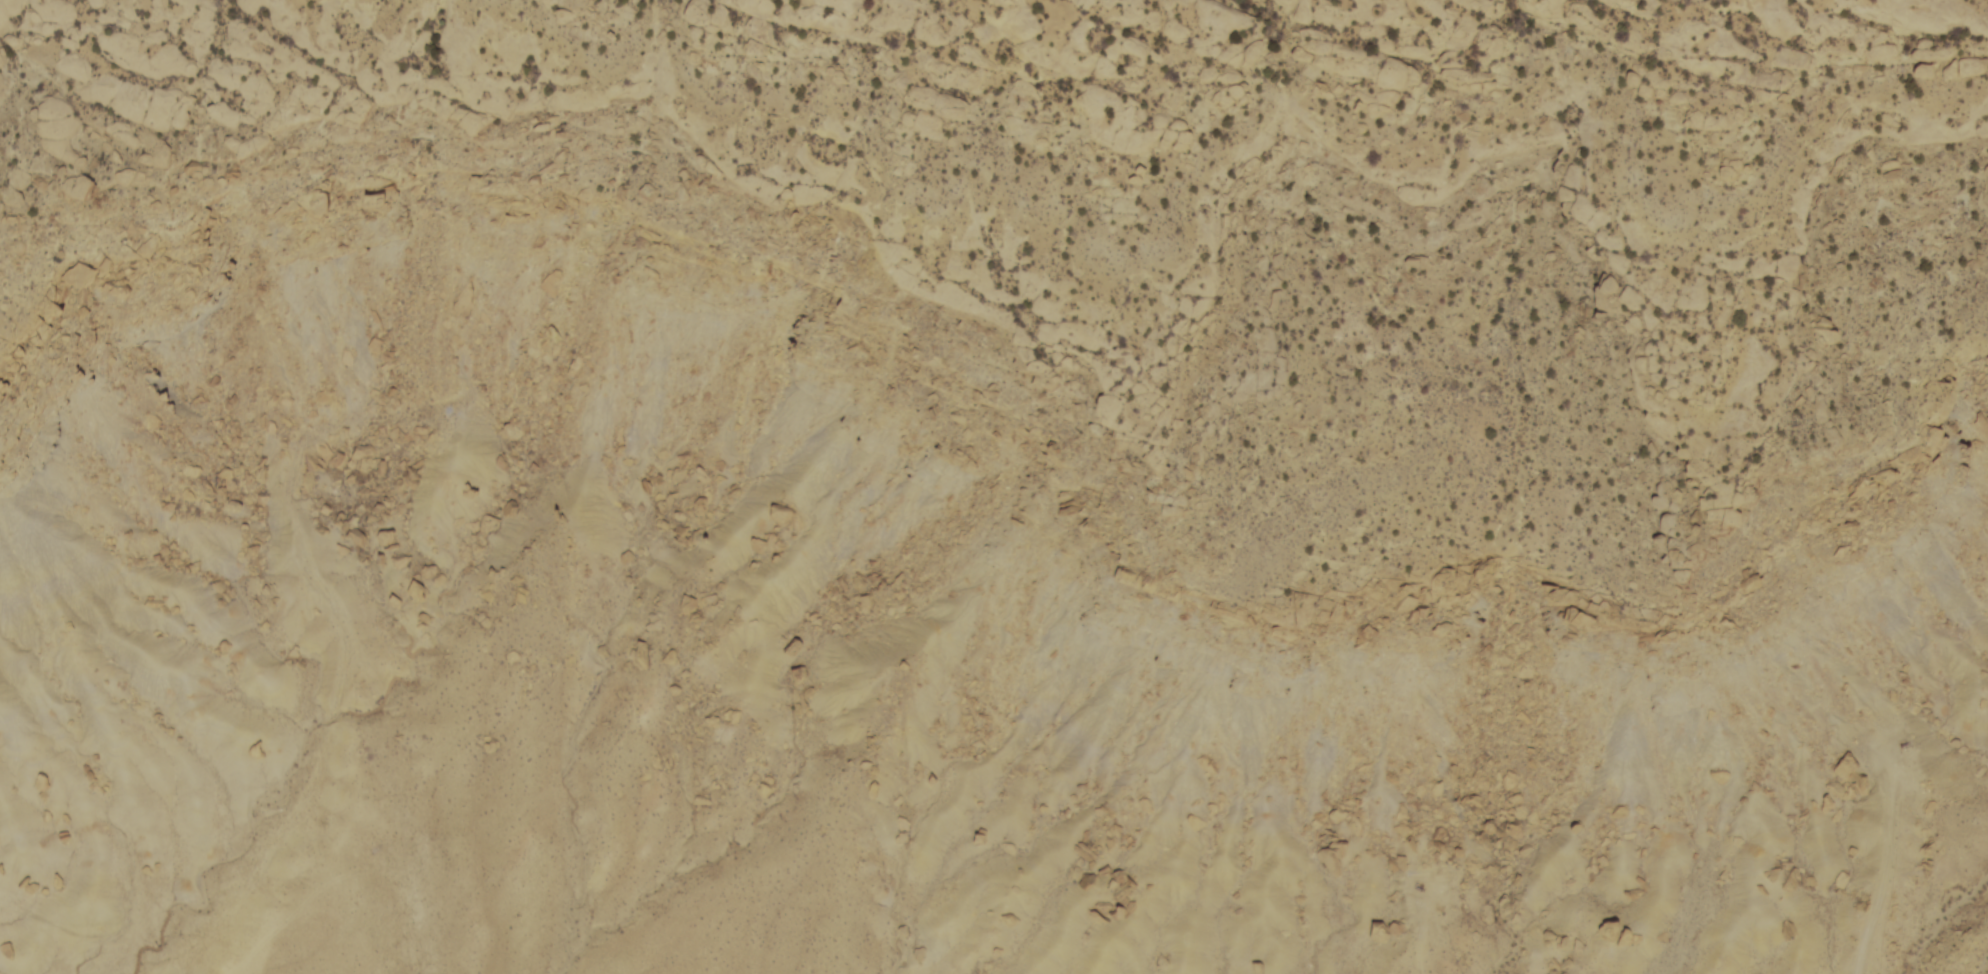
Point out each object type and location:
road: (1893, 910)

